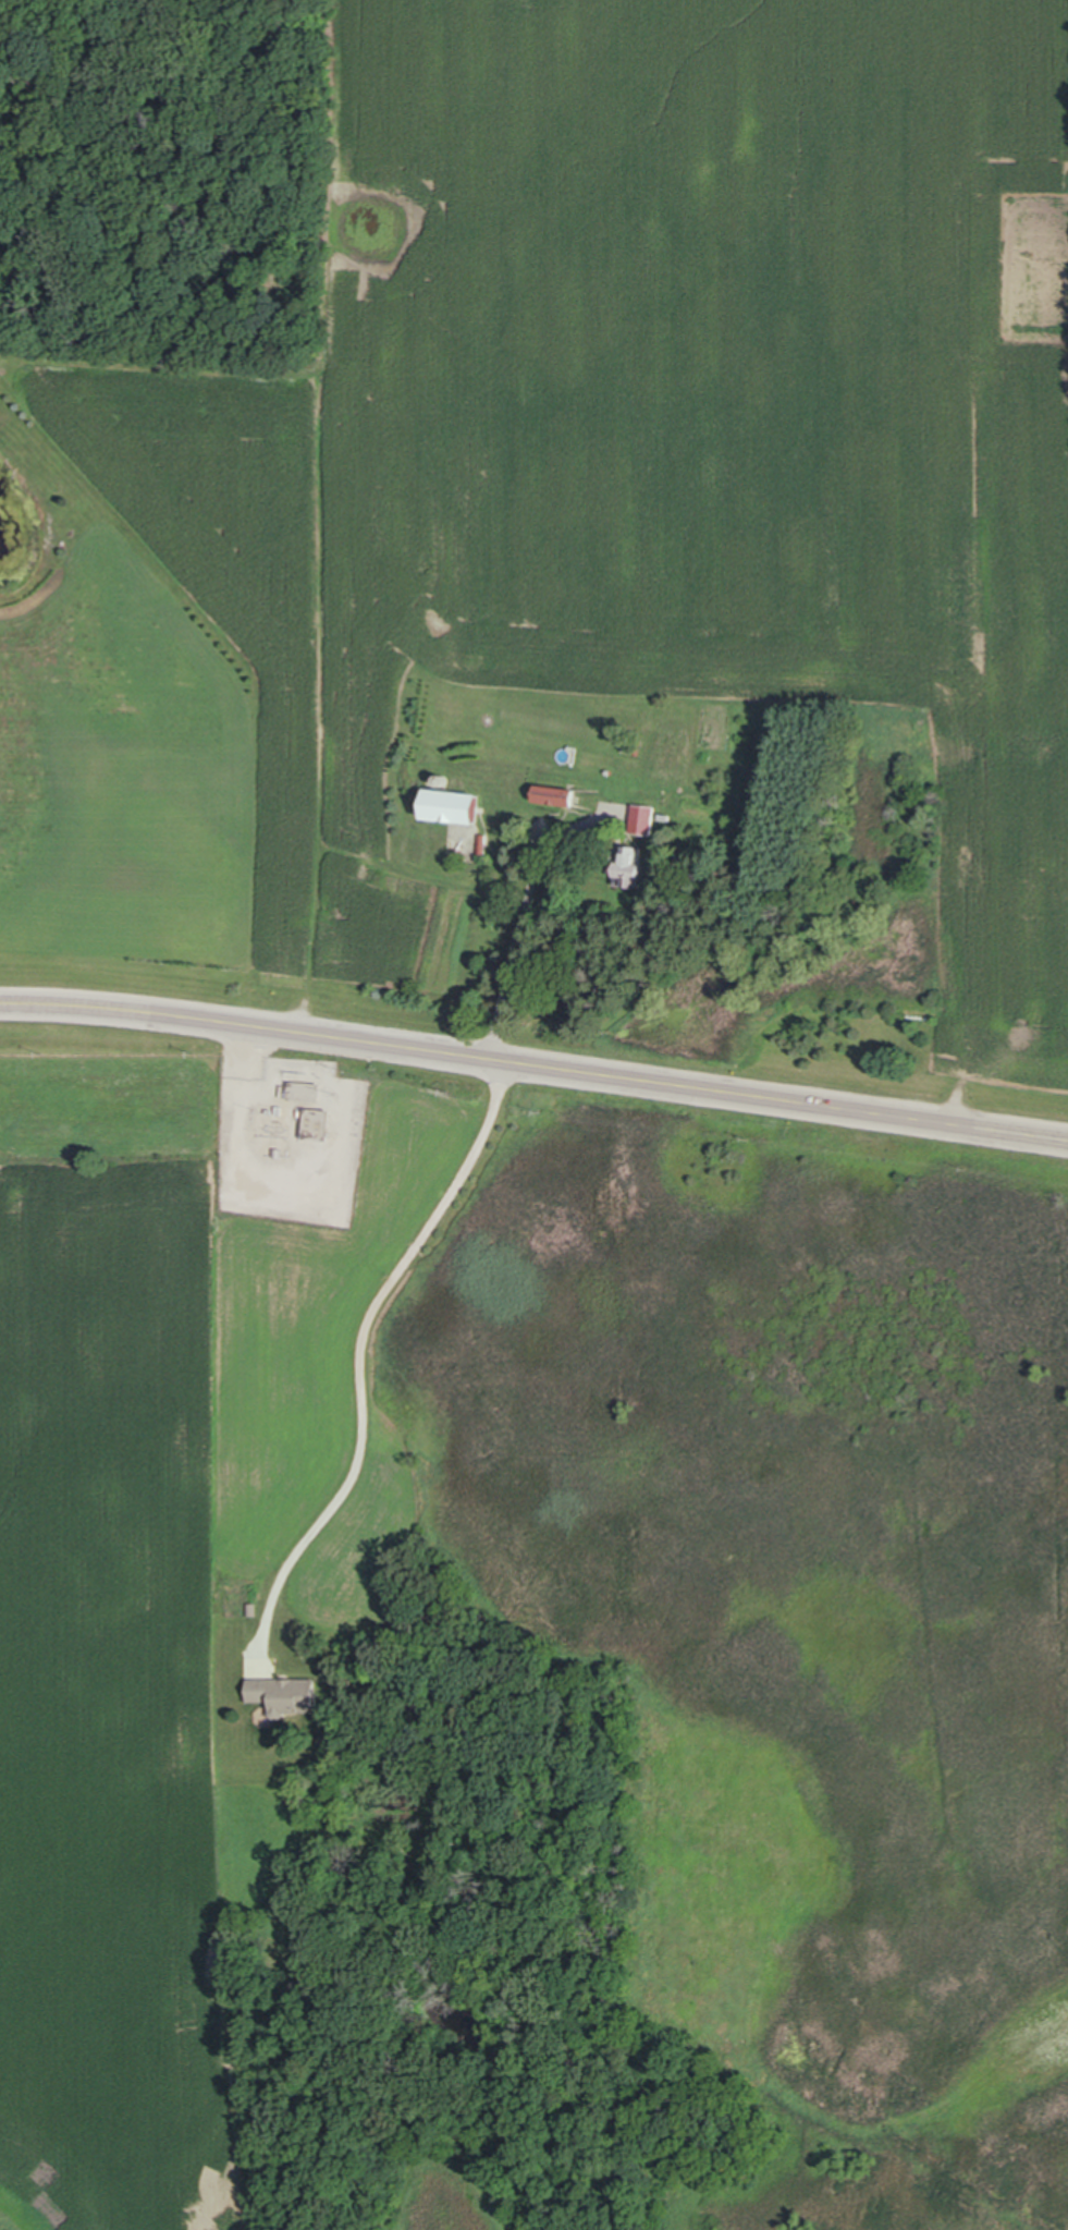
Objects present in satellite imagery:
building: (548, 799)
building: (441, 808)
building: (639, 821)
building: (625, 869)
road: (521, 917)
road: (533, 1068)
building: (309, 1093)
building: (323, 1133)
road: (363, 1357)
building: (280, 1696)

